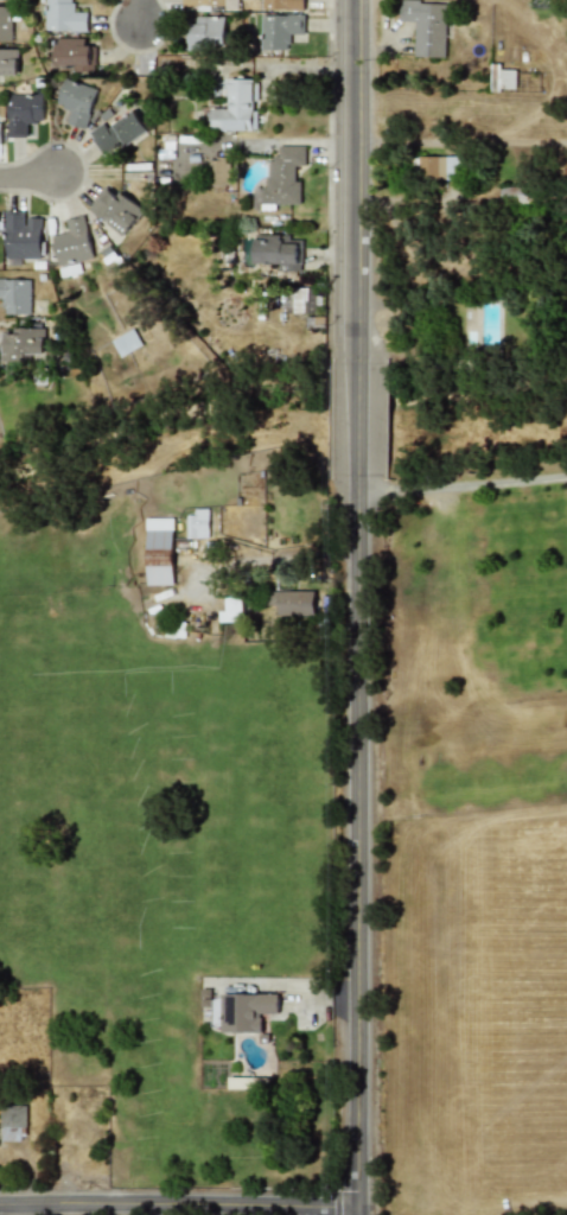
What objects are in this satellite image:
building: (210, 4)
building: (282, 5)
road: (139, 12)
building: (5, 23)
building: (426, 27)
building: (279, 31)
building: (206, 33)
building: (72, 53)
building: (8, 63)
building: (503, 78)
building: (76, 102)
building: (235, 108)
building: (23, 113)
road: (508, 129)
road: (537, 131)
building: (0, 133)
building: (117, 133)
road: (304, 142)
building: (440, 167)
building: (218, 171)
road: (28, 176)
building: (283, 177)
road: (358, 178)
building: (514, 193)
building: (115, 211)
building: (23, 235)
building: (72, 242)
building: (278, 250)
building: (15, 295)
building: (302, 300)
building: (126, 342)
building: (20, 343)
road: (359, 418)
road: (463, 486)
building: (196, 522)
building: (159, 551)
building: (293, 603)
building: (232, 610)
road: (358, 846)
building: (243, 1011)
building: (12, 1122)
road: (179, 1203)
road: (46, 1209)

